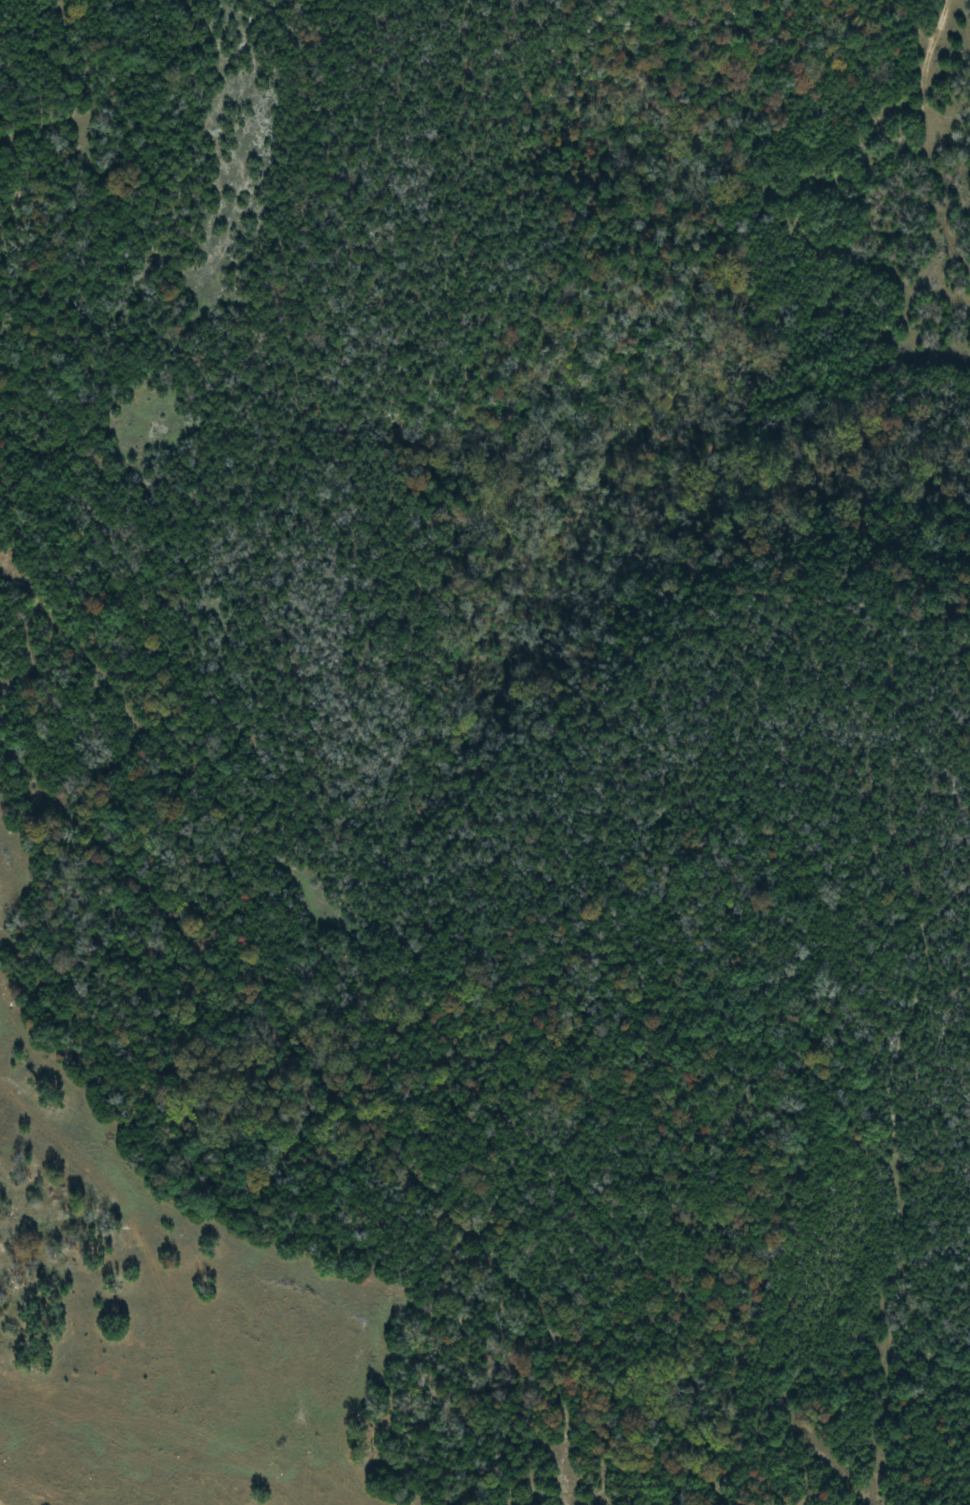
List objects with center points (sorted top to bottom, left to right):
road: (960, 46)
road: (4, 1502)

